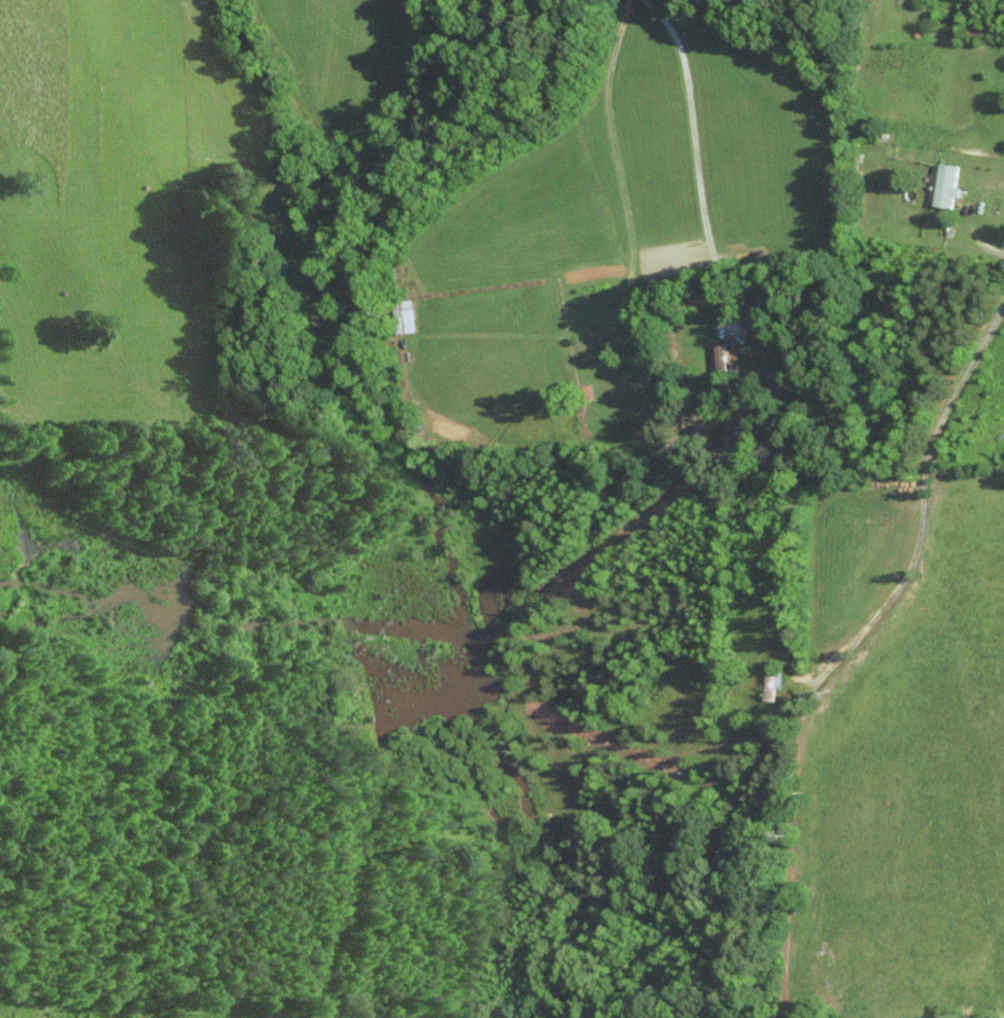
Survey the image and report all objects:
road: (694, 155)
building: (943, 185)
road: (627, 210)
road: (965, 213)
building: (716, 354)
road: (914, 571)

